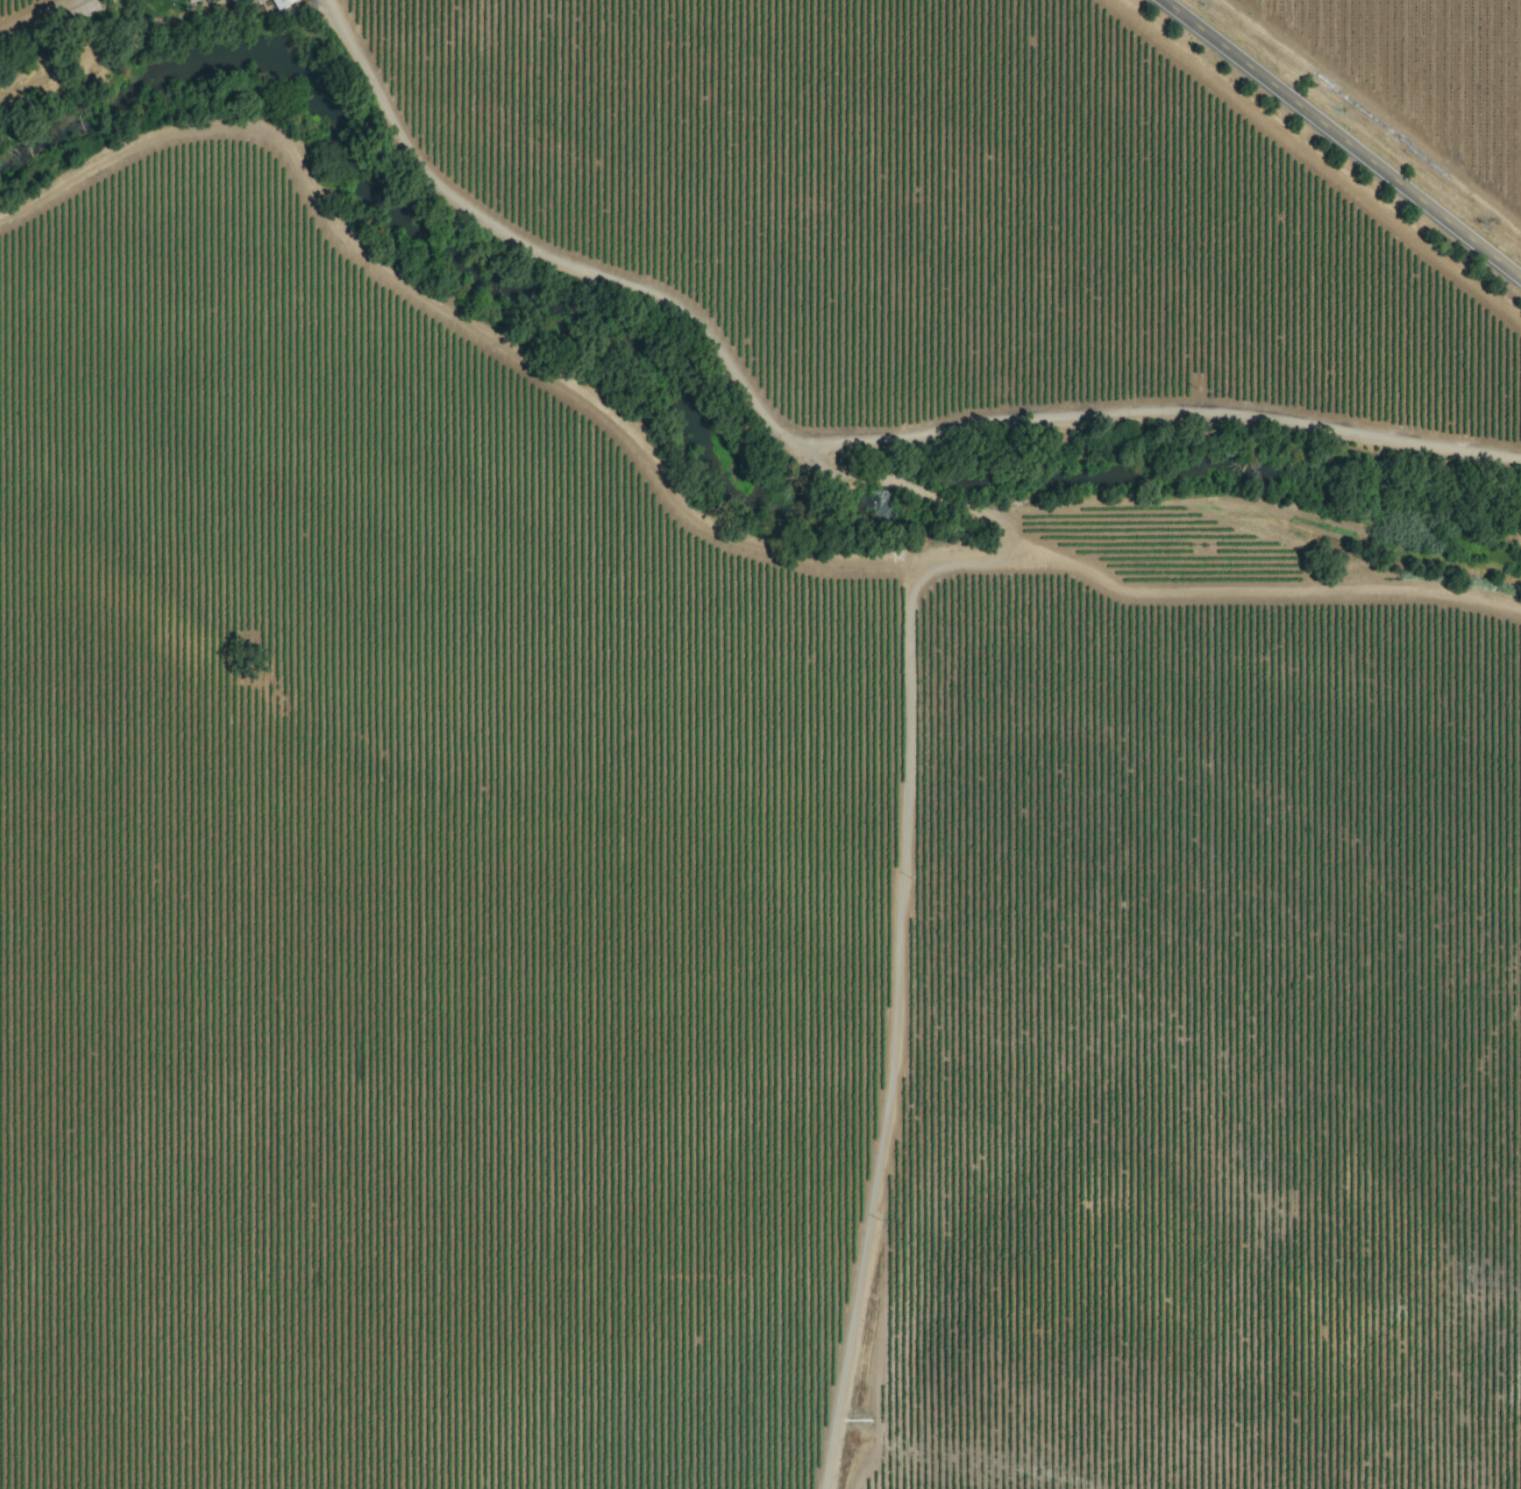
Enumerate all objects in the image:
building: (116, 0)
building: (288, 3)
road: (1341, 139)
road: (823, 442)

